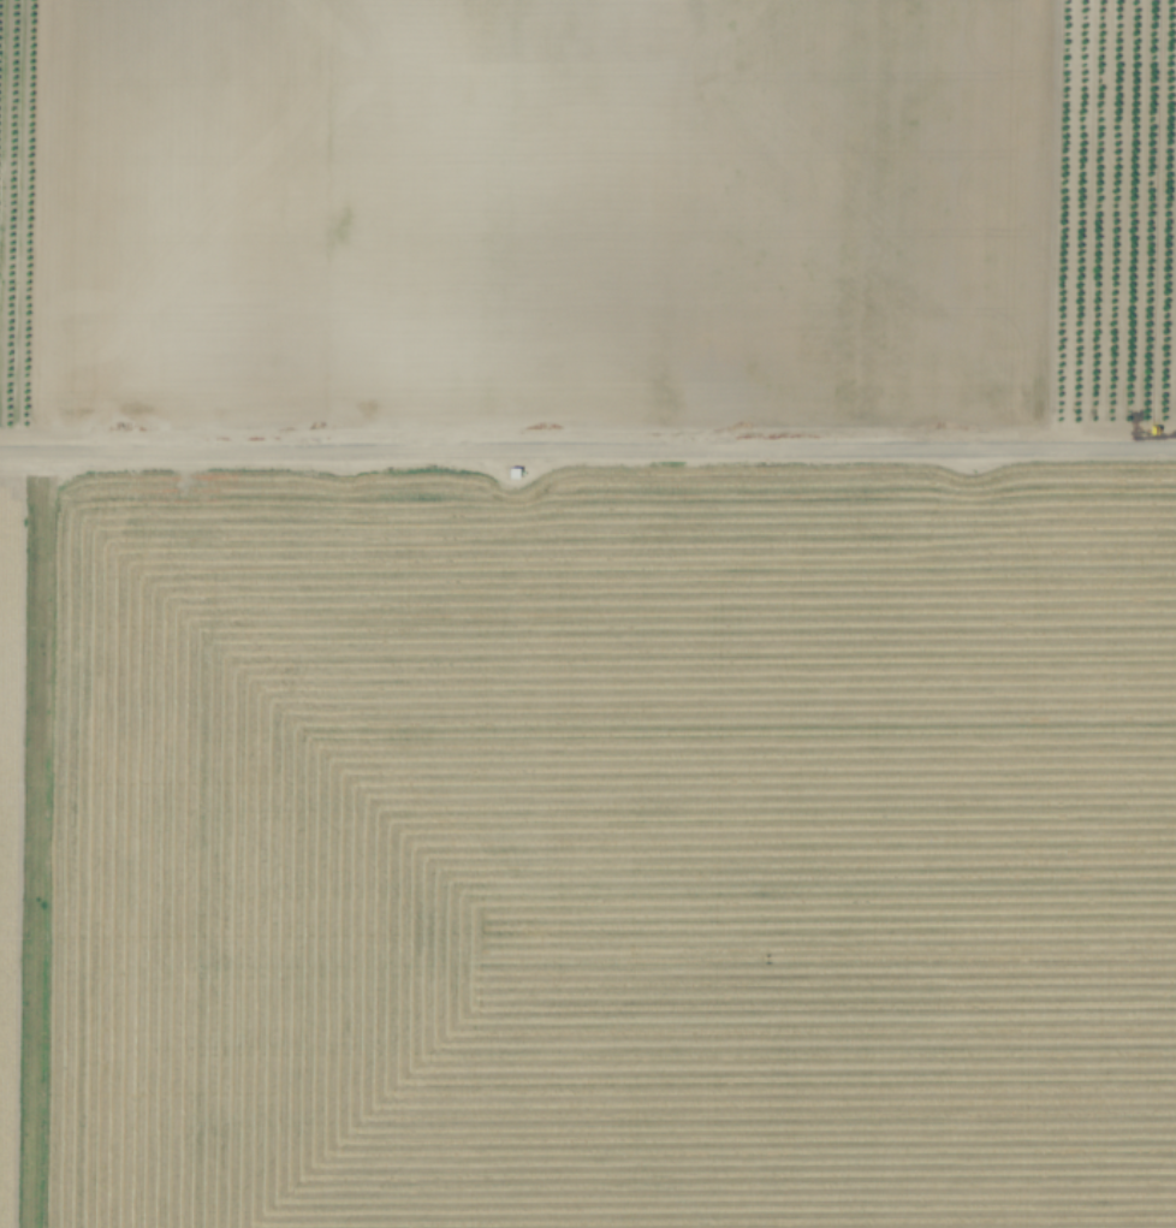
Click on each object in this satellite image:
crop: (588, 613)

